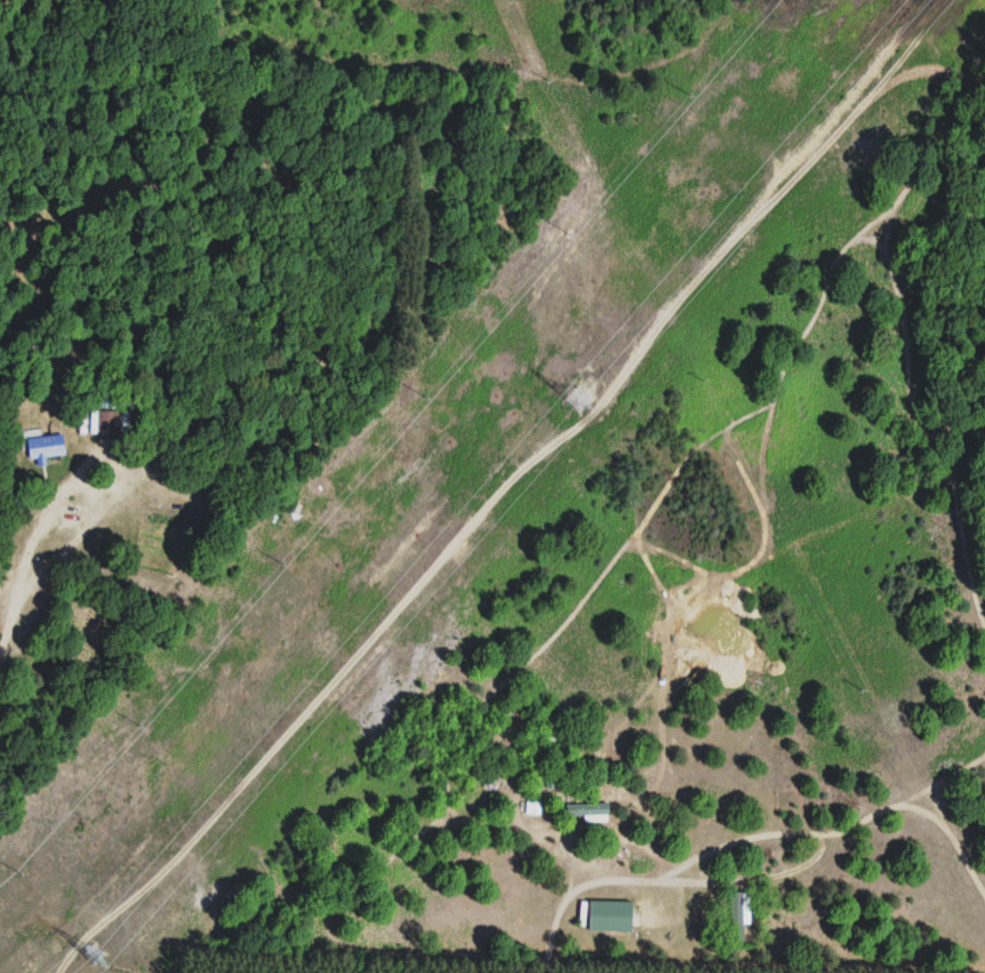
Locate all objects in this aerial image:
power tower: (576, 395)
building: (111, 425)
building: (45, 446)
road: (85, 489)
road: (500, 496)
road: (7, 628)
building: (589, 812)
building: (740, 915)
building: (610, 918)
power tower: (96, 943)

